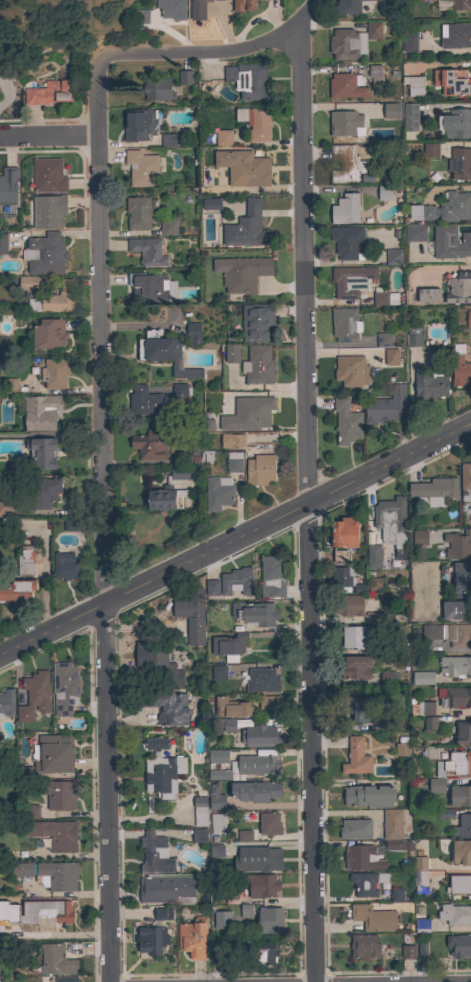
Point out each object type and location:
building: (430, 0)
building: (461, 4)
building: (244, 5)
building: (198, 6)
building: (348, 7)
building: (172, 9)
building: (141, 16)
building: (374, 30)
building: (454, 35)
building: (409, 41)
building: (347, 44)
road: (215, 57)
building: (376, 74)
building: (185, 77)
building: (247, 80)
building: (452, 81)
building: (414, 85)
building: (346, 86)
building: (157, 88)
building: (49, 93)
building: (375, 110)
building: (388, 112)
building: (410, 117)
building: (256, 122)
building: (347, 123)
building: (139, 124)
building: (457, 124)
road: (49, 138)
building: (220, 138)
building: (170, 140)
building: (430, 149)
building: (460, 163)
building: (345, 164)
building: (141, 168)
building: (244, 168)
building: (48, 176)
building: (368, 177)
building: (8, 187)
building: (384, 193)
building: (212, 204)
building: (455, 207)
building: (345, 209)
building: (49, 211)
building: (138, 212)
building: (422, 213)
building: (168, 226)
building: (246, 227)
building: (415, 233)
building: (347, 241)
building: (450, 242)
building: (3, 244)
building: (147, 251)
building: (45, 254)
building: (394, 257)
building: (241, 273)
building: (352, 281)
building: (28, 283)
building: (148, 288)
building: (459, 288)
building: (429, 295)
building: (385, 299)
building: (54, 300)
building: (468, 319)
building: (258, 322)
building: (345, 325)
building: (193, 333)
building: (49, 334)
building: (413, 338)
building: (384, 339)
building: (470, 350)
building: (165, 353)
building: (231, 354)
building: (391, 356)
building: (258, 365)
building: (460, 367)
building: (351, 371)
building: (55, 373)
building: (10, 385)
building: (429, 386)
building: (180, 392)
building: (147, 402)
building: (385, 405)
building: (41, 412)
building: (248, 414)
building: (346, 422)
building: (208, 425)
building: (232, 440)
building: (149, 445)
building: (41, 452)
building: (194, 455)
building: (207, 457)
building: (234, 462)
building: (260, 470)
building: (465, 481)
building: (169, 491)
building: (434, 491)
building: (45, 492)
building: (218, 493)
road: (310, 503)
building: (3, 509)
road: (104, 522)
building: (391, 523)
building: (70, 525)
building: (345, 533)
building: (419, 537)
road: (234, 542)
building: (457, 544)
building: (340, 556)
building: (373, 556)
building: (25, 562)
building: (64, 564)
building: (272, 576)
building: (347, 578)
building: (461, 579)
building: (236, 582)
building: (374, 583)
building: (212, 588)
building: (17, 591)
building: (349, 605)
building: (455, 610)
building: (255, 613)
building: (191, 619)
building: (452, 634)
building: (355, 637)
building: (228, 646)
building: (378, 647)
building: (157, 658)
building: (456, 666)
building: (356, 667)
building: (218, 672)
building: (386, 678)
building: (423, 678)
building: (262, 680)
building: (65, 688)
building: (34, 696)
building: (443, 702)
building: (6, 703)
building: (269, 703)
building: (166, 707)
building: (358, 707)
building: (232, 708)
building: (430, 723)
building: (225, 724)
building: (385, 724)
building: (462, 733)
building: (260, 736)
building: (402, 749)
building: (430, 753)
building: (54, 754)
building: (218, 755)
building: (356, 757)
building: (258, 764)
building: (455, 764)
building: (161, 769)
building: (24, 773)
building: (222, 775)
building: (436, 785)
building: (255, 791)
building: (60, 795)
building: (368, 796)
building: (460, 796)
building: (215, 797)
building: (31, 811)
building: (200, 811)
road: (356, 812)
building: (442, 815)
building: (218, 823)
building: (269, 823)
building: (392, 824)
building: (463, 826)
building: (356, 829)
building: (55, 834)
building: (198, 835)
building: (243, 835)
building: (398, 845)
building: (216, 851)
building: (461, 853)
building: (155, 854)
building: (267, 858)
building: (362, 858)
building: (420, 873)
building: (49, 874)
building: (366, 883)
building: (458, 884)
building: (261, 885)
building: (165, 888)
building: (396, 894)
building: (3, 906)
building: (246, 910)
building: (46, 914)
building: (455, 914)
building: (160, 915)
building: (373, 918)
building: (223, 920)
building: (269, 920)
building: (421, 923)
building: (193, 938)
building: (151, 940)
building: (364, 946)
building: (459, 946)
building: (422, 950)
building: (407, 951)
building: (265, 954)
building: (56, 961)
building: (66, 979)

